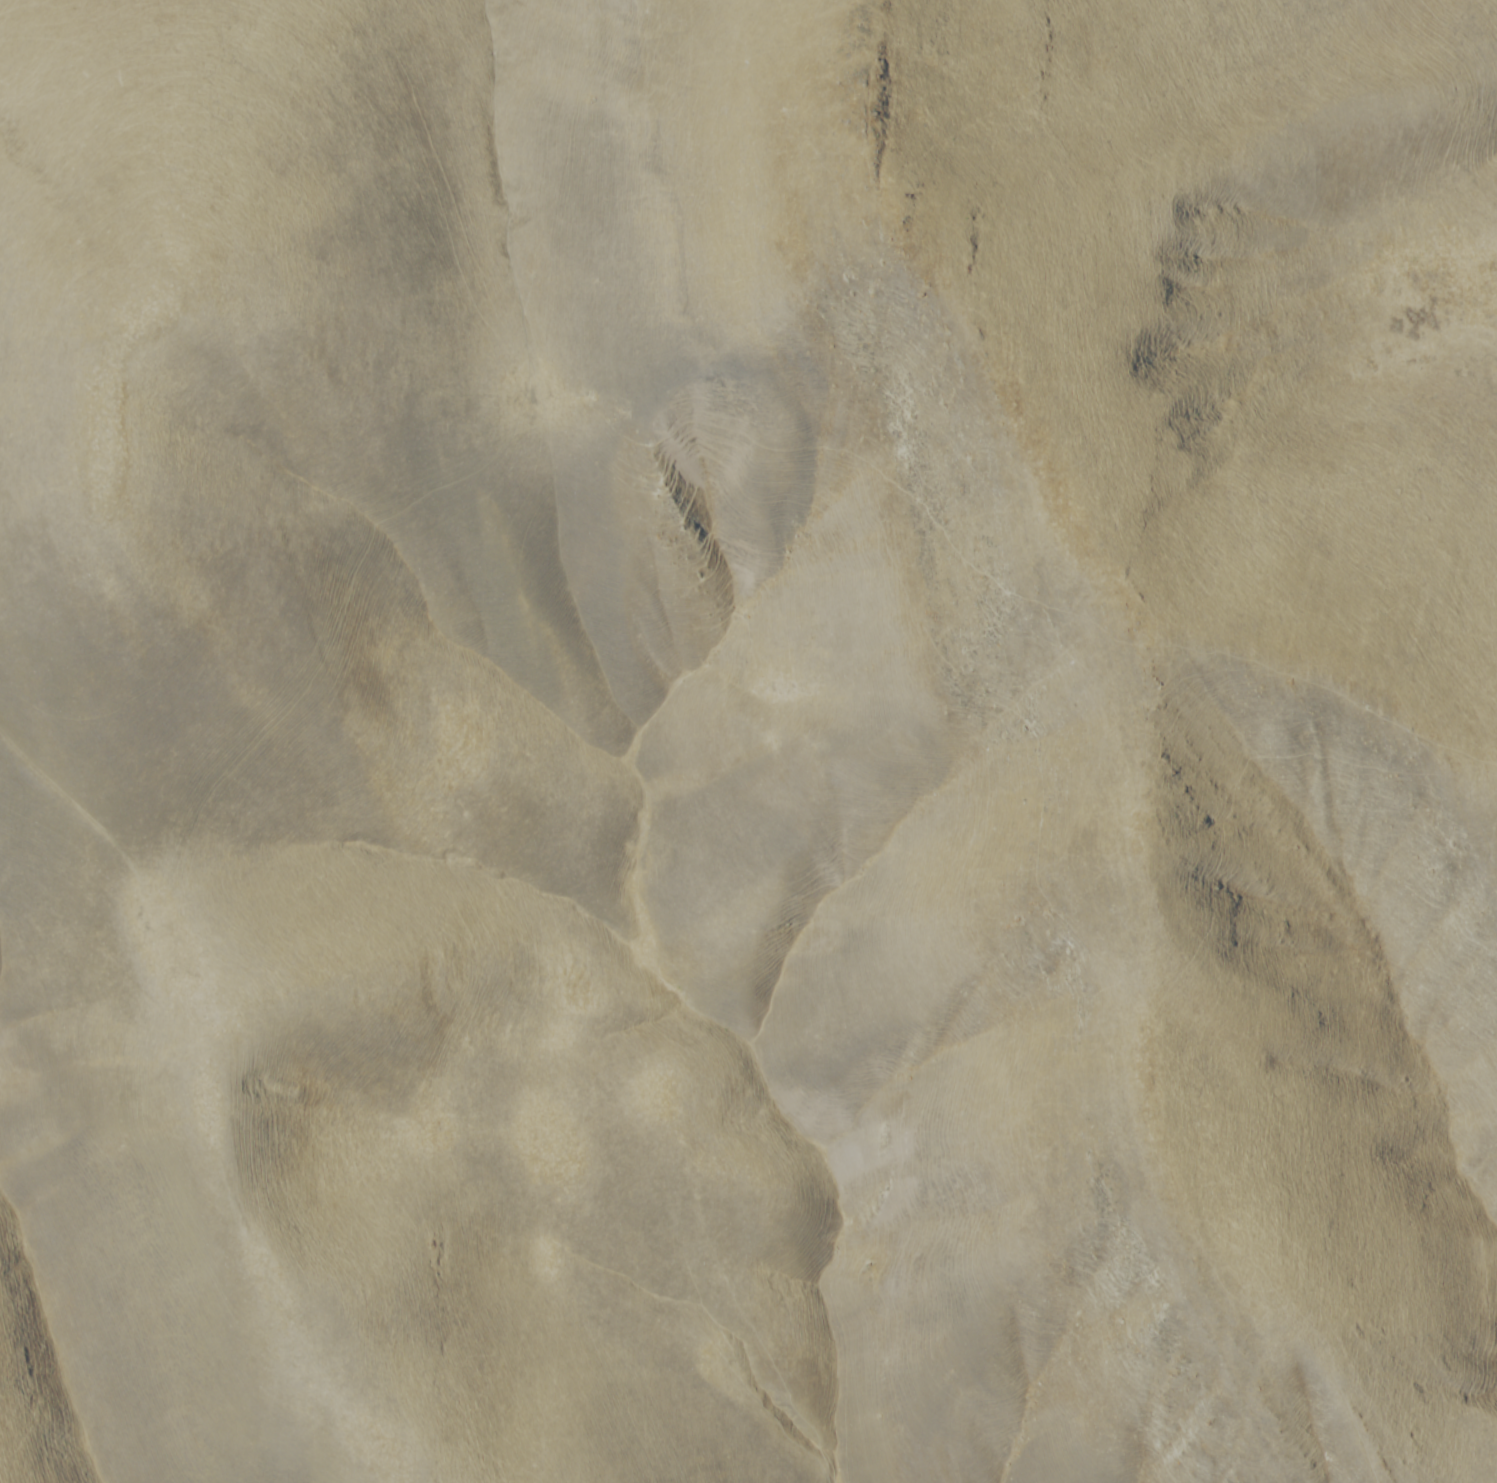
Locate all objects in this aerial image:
road: (1325, 1398)

